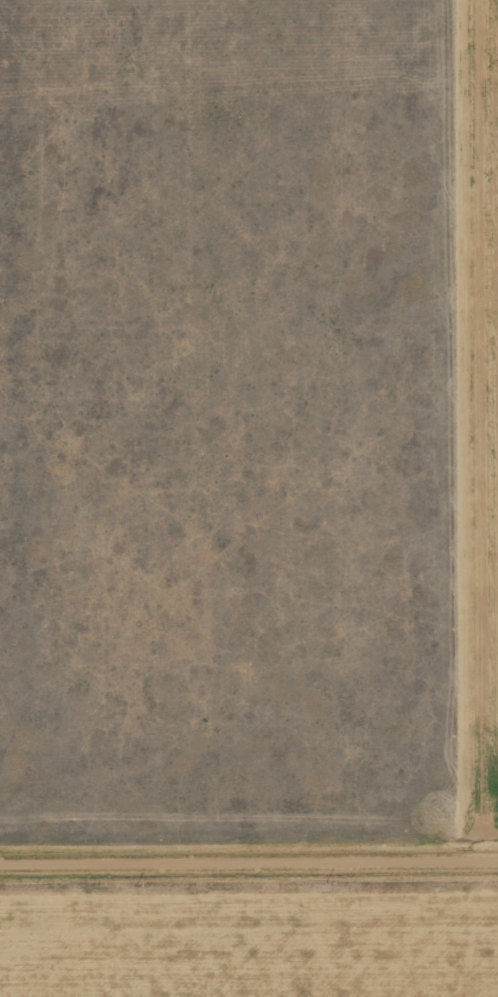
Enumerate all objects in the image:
road: (249, 867)

